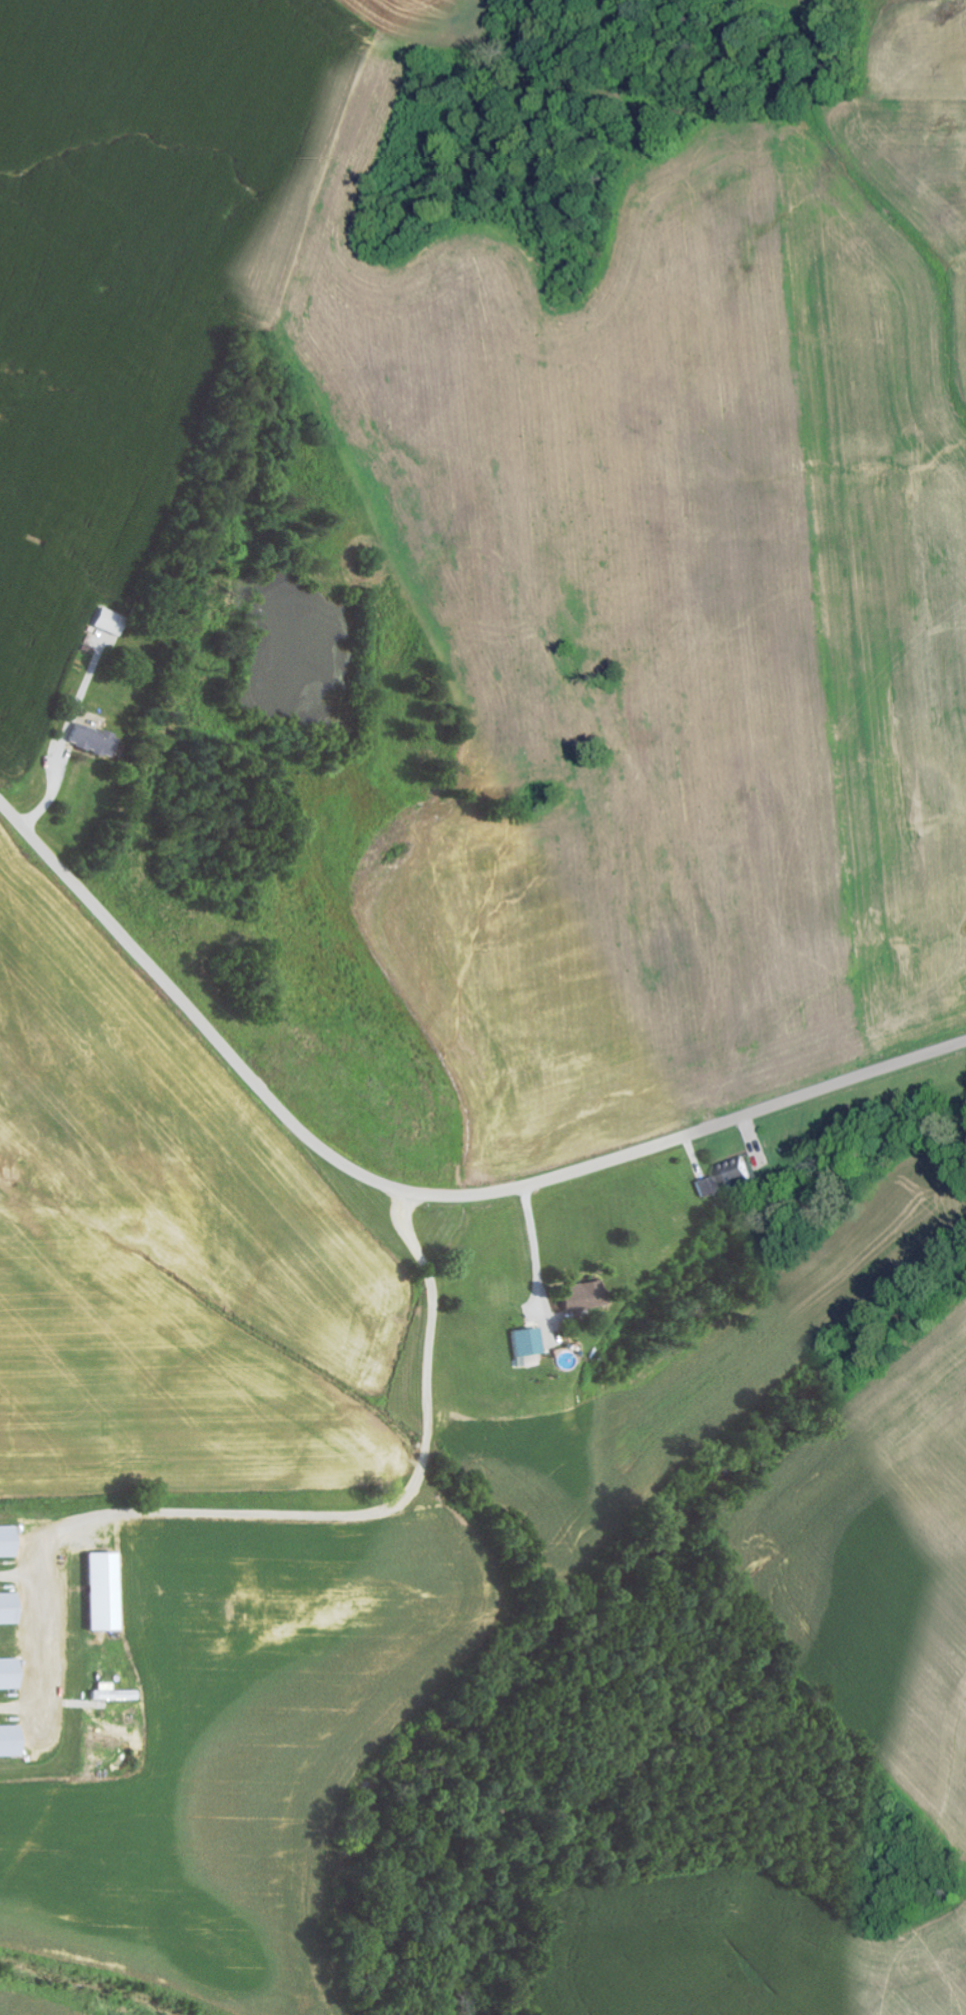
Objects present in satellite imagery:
building: (105, 621)
road: (855, 621)
building: (89, 741)
road: (75, 1019)
building: (725, 1181)
road: (413, 1194)
building: (580, 1292)
building: (525, 1347)
building: (11, 1542)
building: (109, 1591)
building: (11, 1609)
building: (12, 1674)
building: (116, 1693)
building: (13, 1741)

